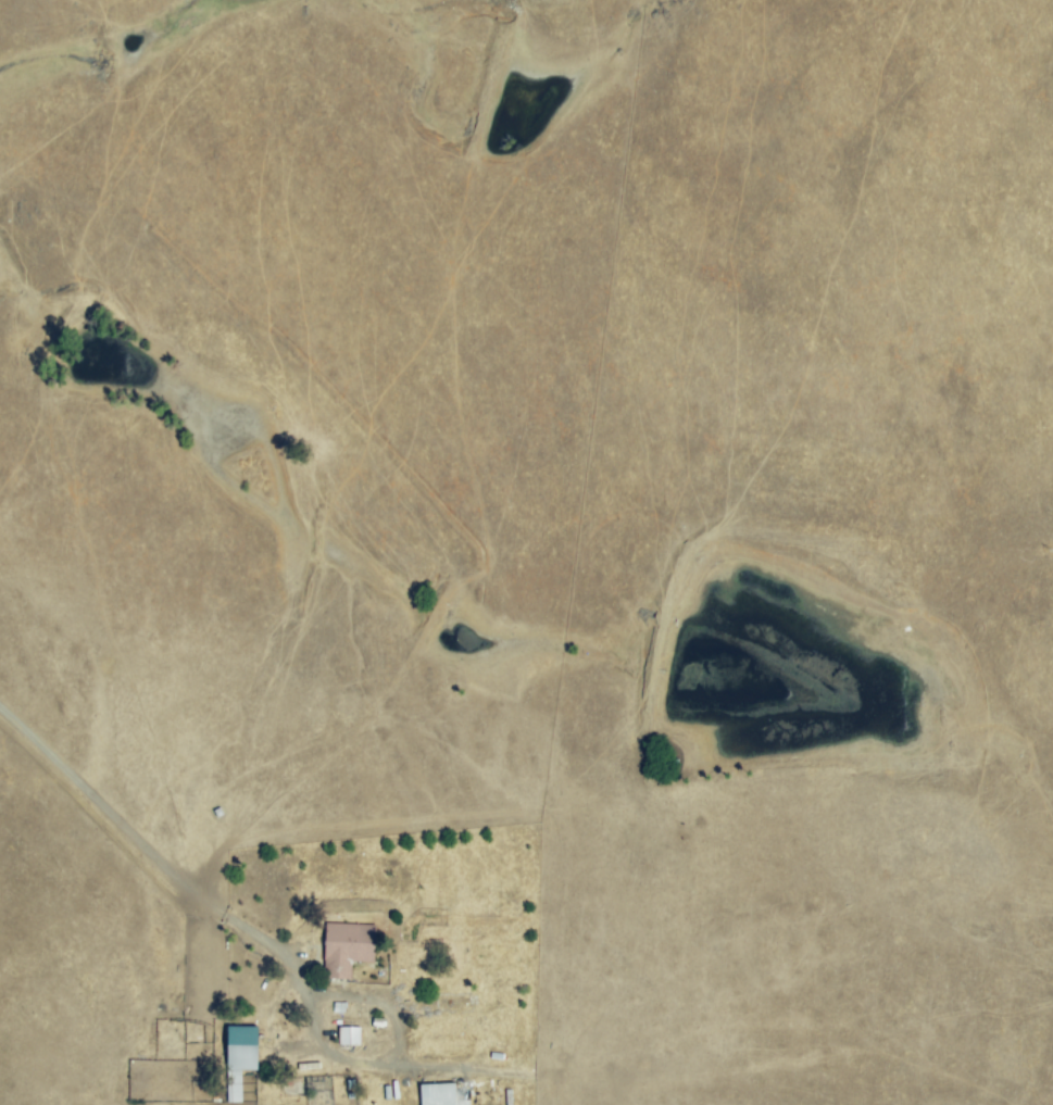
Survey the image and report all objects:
road: (112, 815)
building: (349, 949)
building: (242, 1059)

